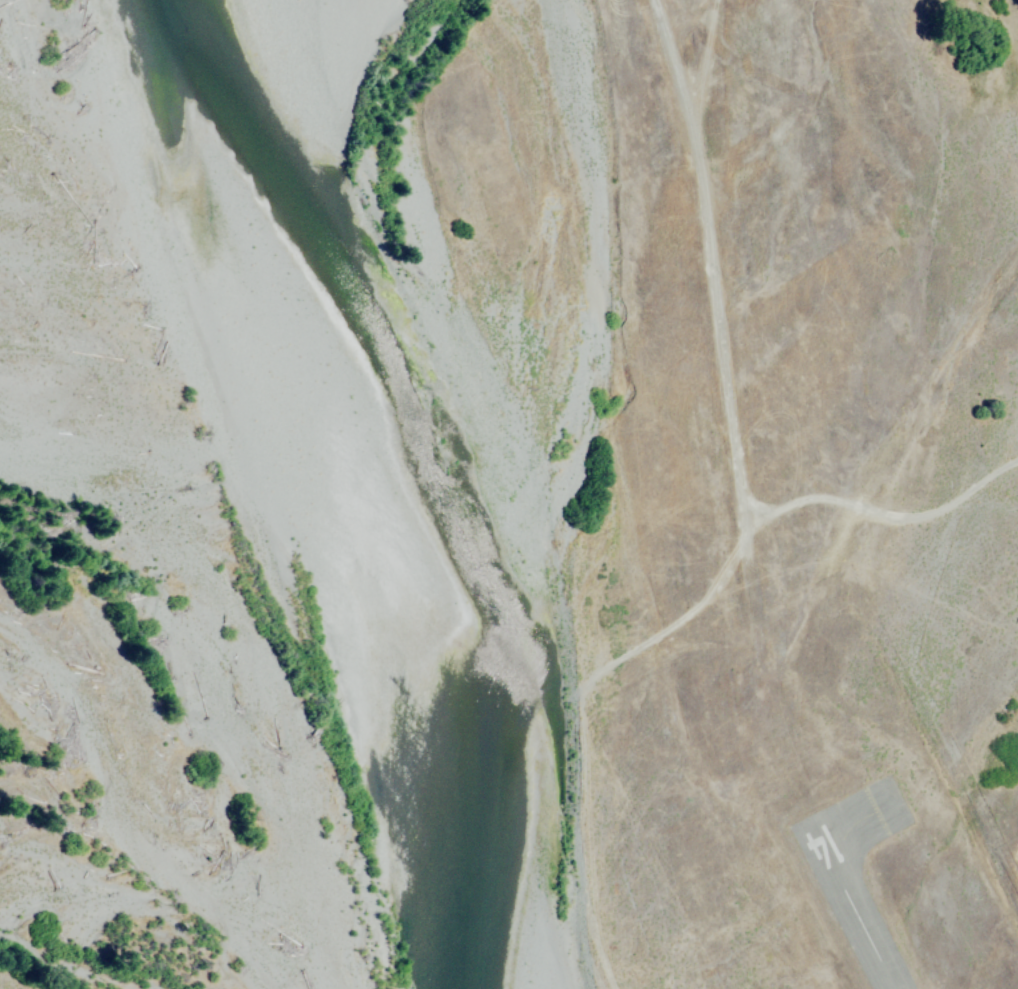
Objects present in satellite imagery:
road: (665, 627)
airport runway: (857, 908)

